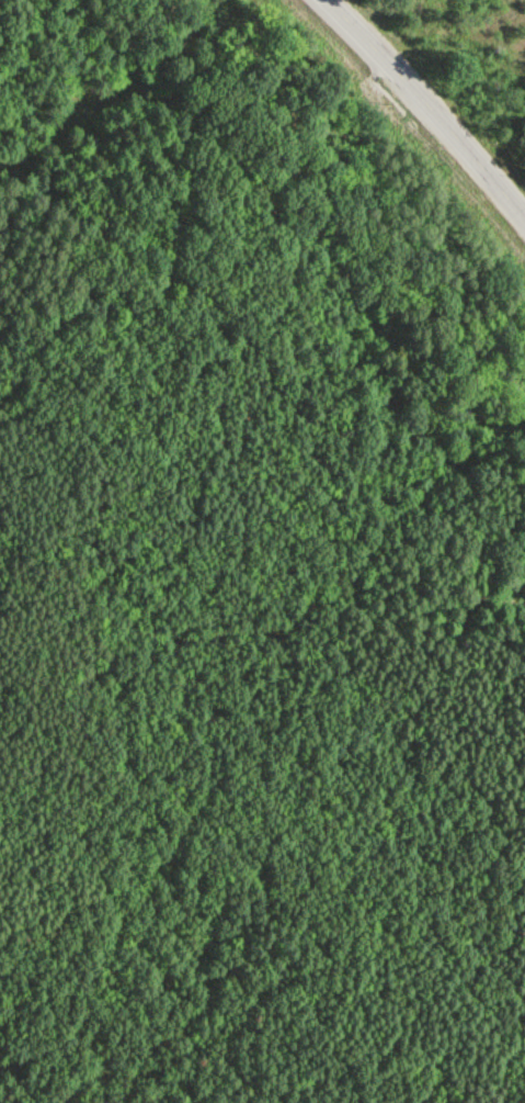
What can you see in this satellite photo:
road: (429, 106)

